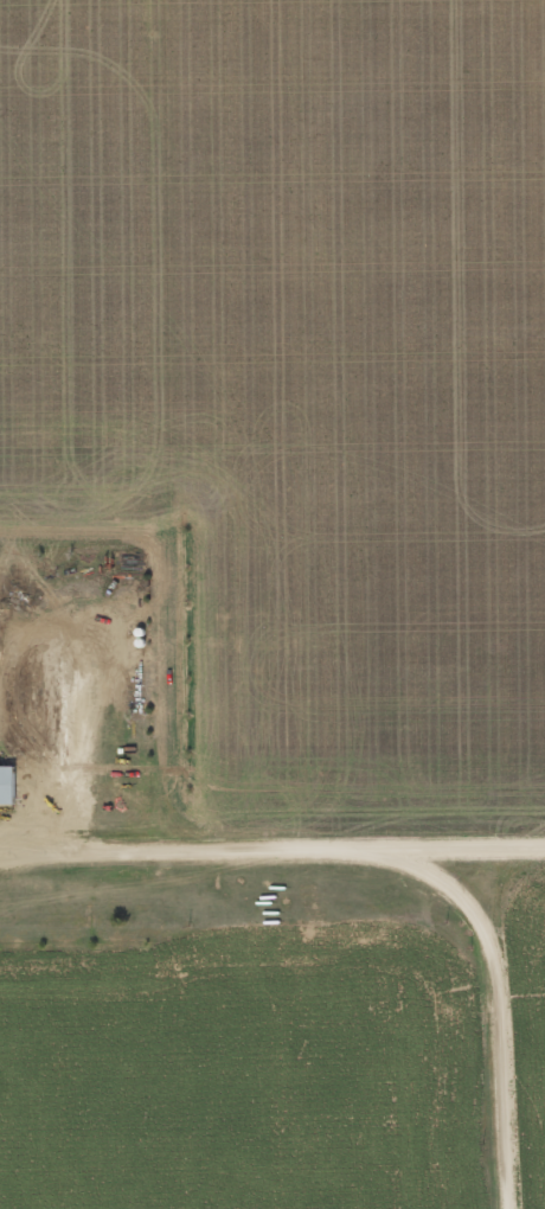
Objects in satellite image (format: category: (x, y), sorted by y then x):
building: (8, 782)
road: (281, 861)
road: (515, 1021)

